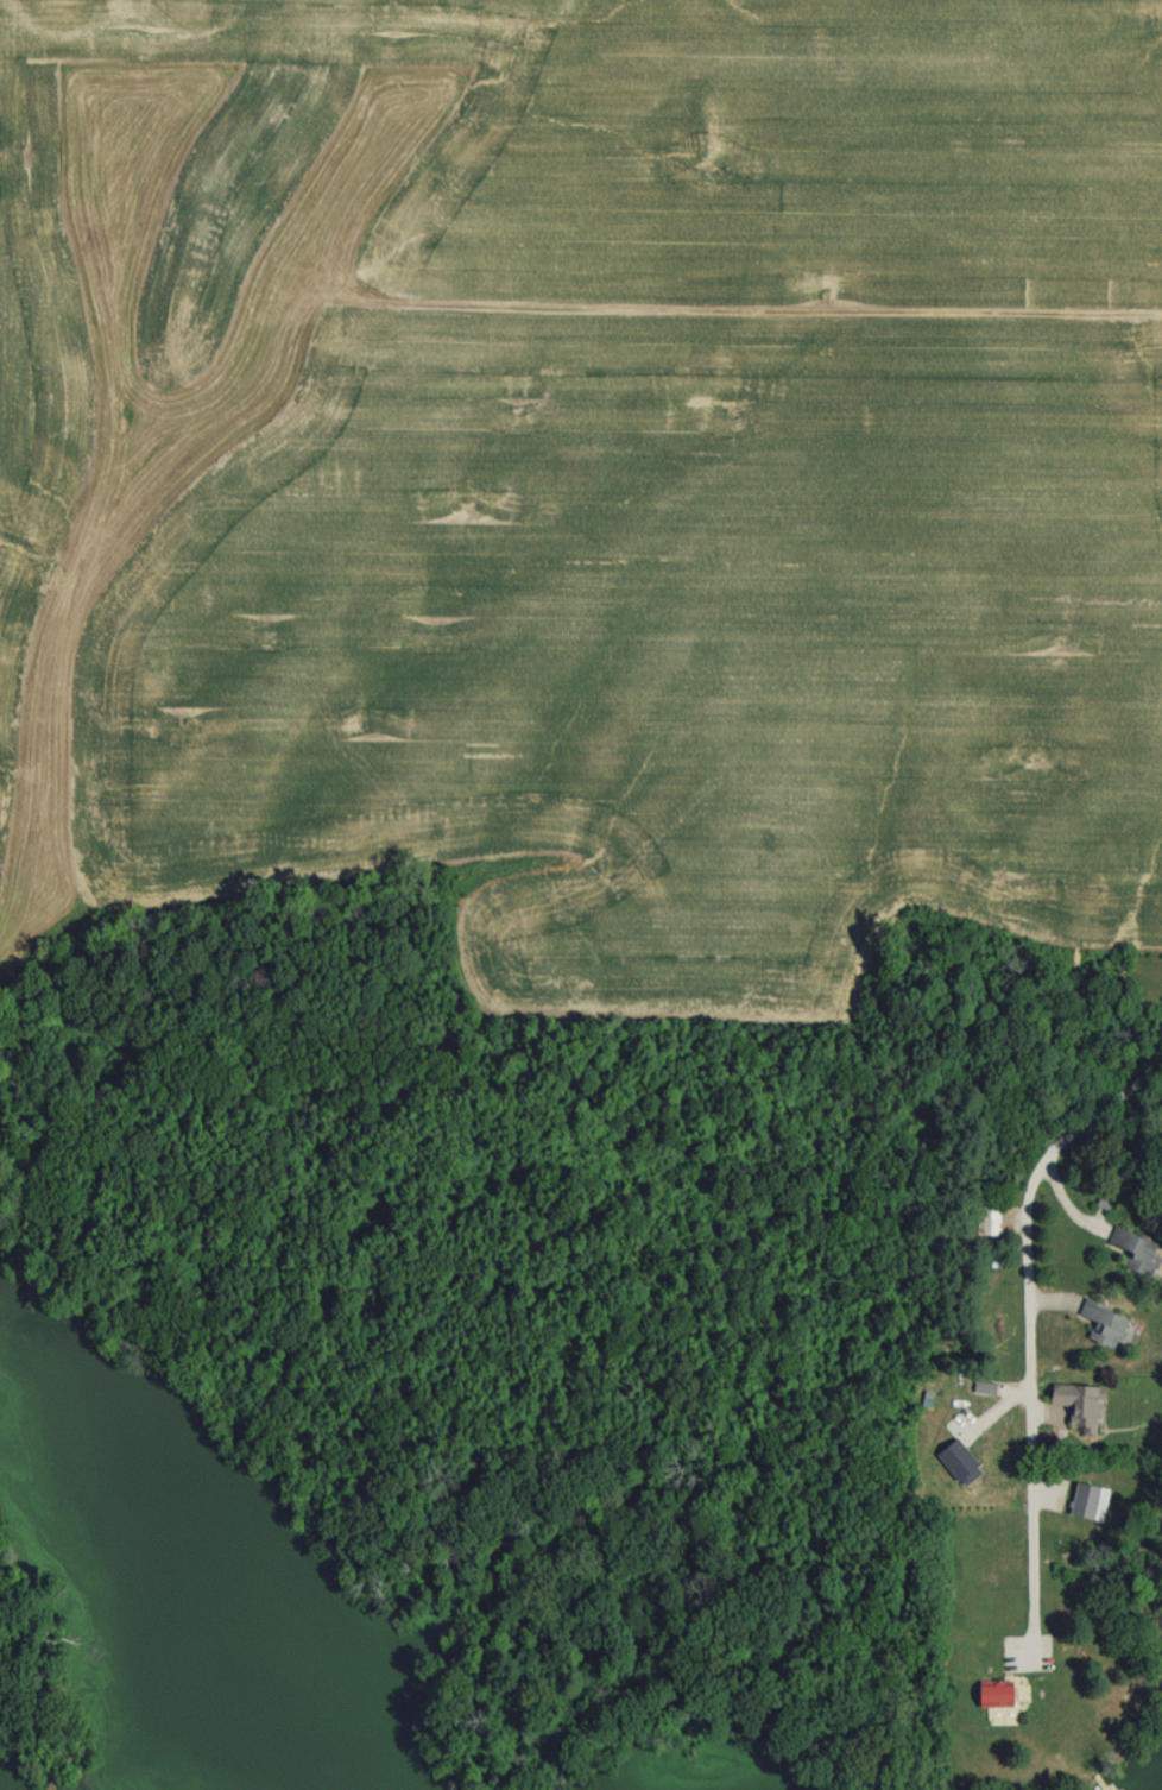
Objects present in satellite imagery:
building: (1135, 1250)
building: (1103, 1324)
road: (1023, 1344)
building: (1071, 1408)
building: (990, 1694)

